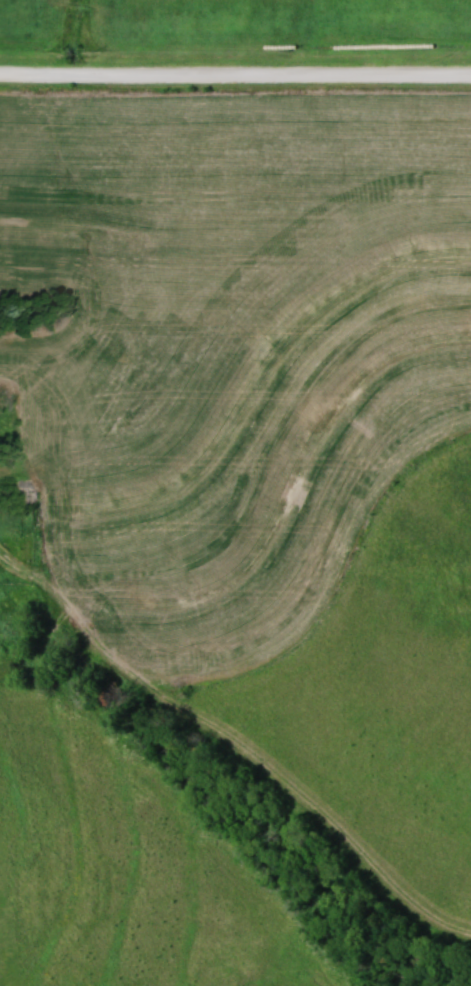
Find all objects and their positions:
road: (235, 75)

